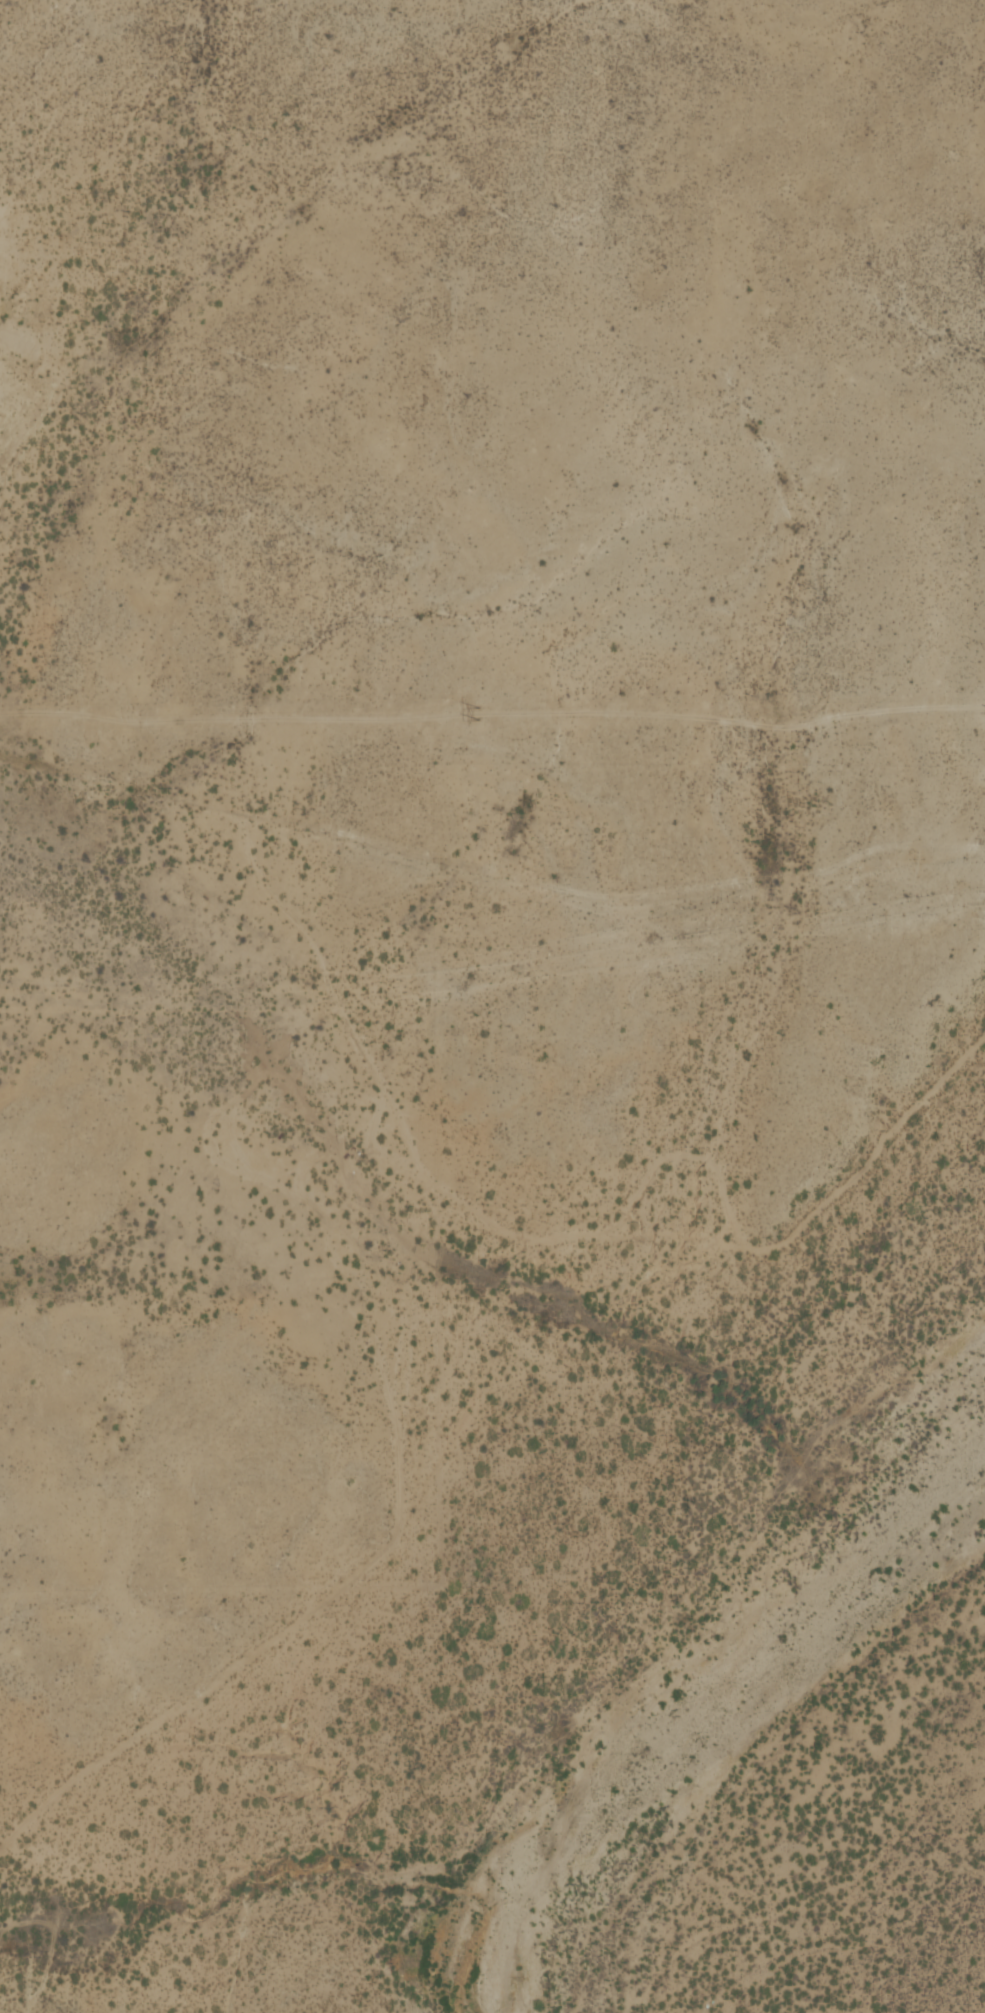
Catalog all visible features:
road: (23, 427)
power tower: (475, 713)
road: (223, 808)
road: (274, 1228)
river: (685, 1681)
river: (473, 2007)

